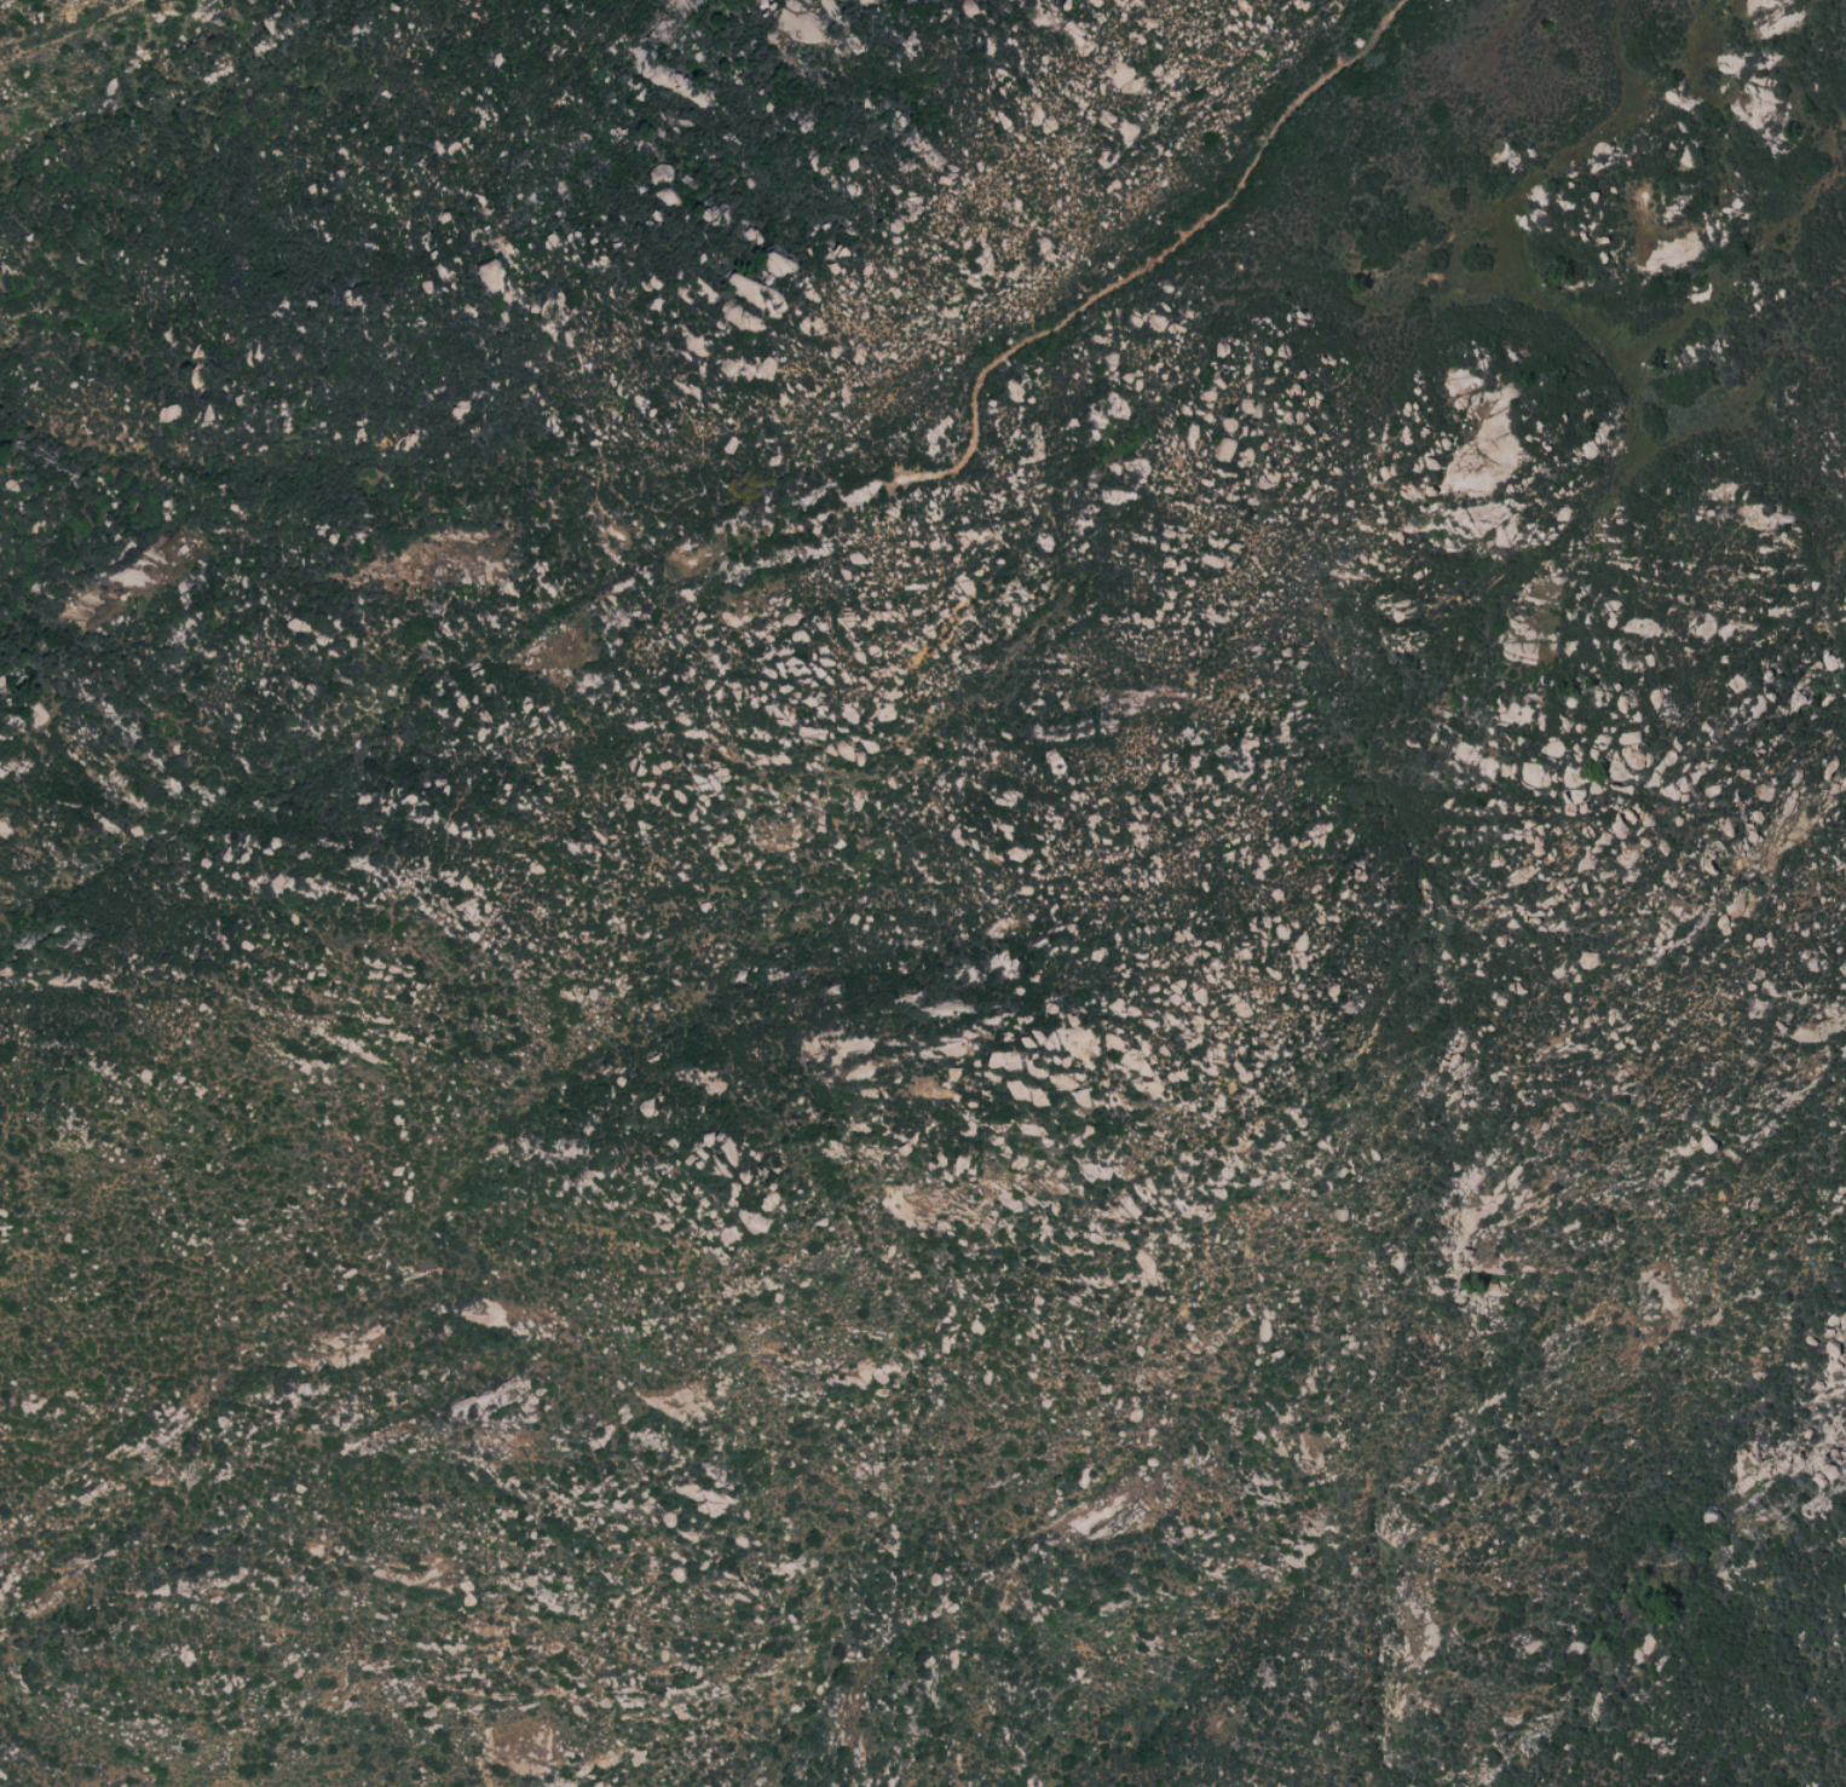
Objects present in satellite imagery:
road: (60, 27)

